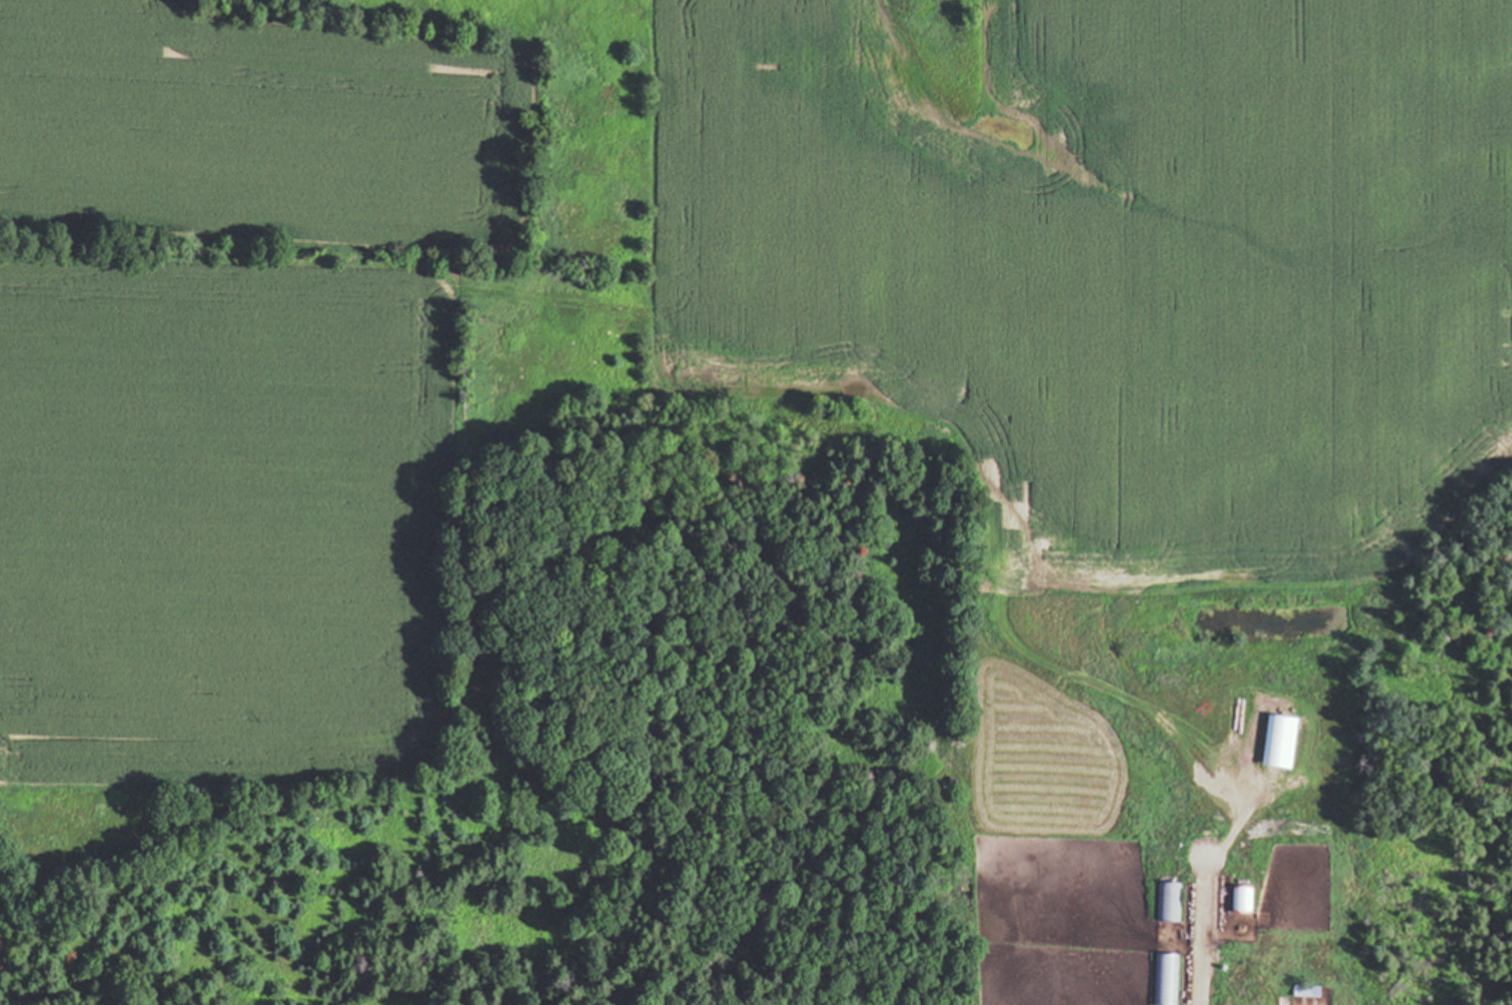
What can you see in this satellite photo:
building: (1280, 742)
building: (1243, 743)
building: (1242, 899)
building: (1169, 902)
building: (1166, 979)
building: (1307, 992)

